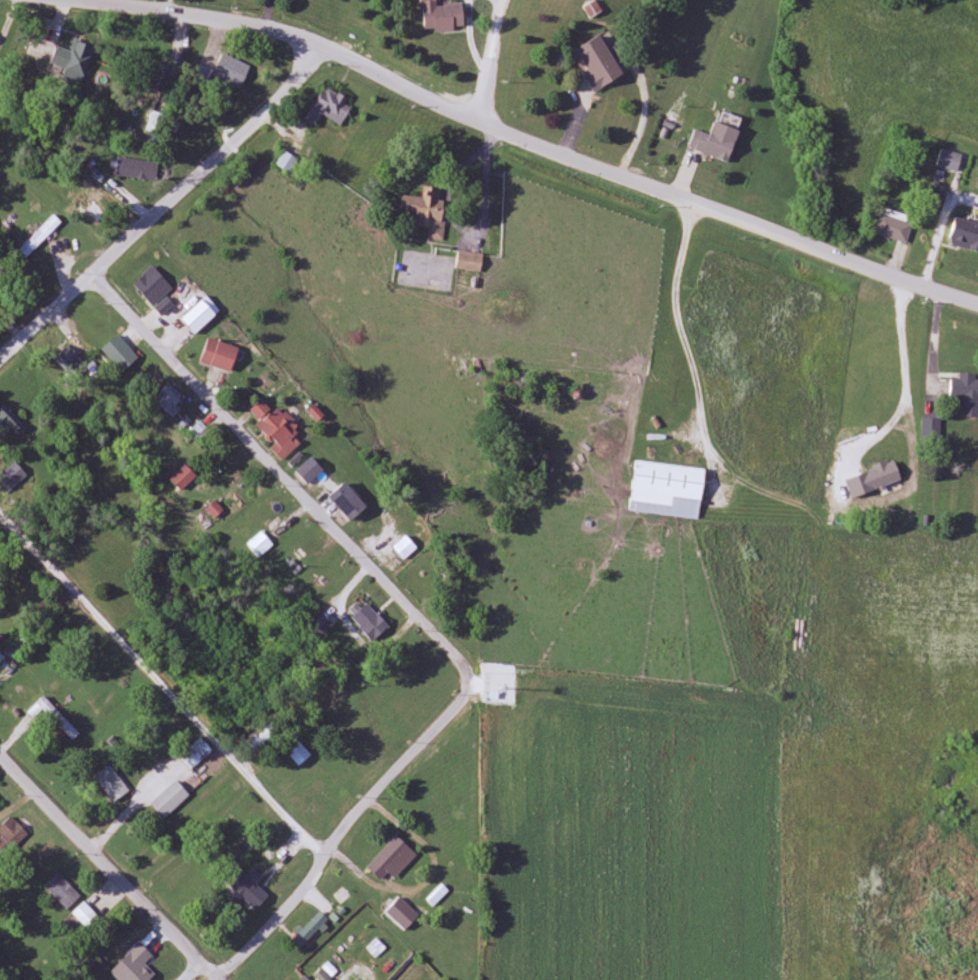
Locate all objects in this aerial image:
road: (165, 4)
building: (441, 16)
road: (305, 39)
building: (74, 62)
road: (492, 62)
building: (600, 63)
building: (232, 71)
building: (203, 74)
building: (331, 106)
building: (716, 142)
building: (950, 160)
building: (287, 161)
building: (134, 168)
building: (94, 178)
building: (937, 199)
road: (166, 210)
building: (429, 210)
building: (93, 211)
road: (729, 217)
building: (892, 227)
building: (965, 234)
building: (40, 236)
building: (470, 260)
building: (153, 286)
building: (201, 315)
road: (681, 317)
building: (220, 355)
building: (72, 359)
building: (966, 395)
building: (170, 400)
building: (278, 429)
building: (932, 430)
building: (310, 470)
building: (885, 474)
building: (13, 476)
building: (184, 476)
road: (290, 484)
building: (668, 489)
building: (348, 501)
building: (272, 516)
building: (304, 545)
building: (371, 622)
building: (2, 659)
road: (163, 680)
crop: (867, 736)
building: (299, 753)
building: (112, 784)
building: (317, 795)
building: (170, 800)
crop: (624, 828)
building: (11, 836)
road: (339, 836)
building: (389, 858)
road: (107, 867)
building: (185, 884)
building: (246, 888)
building: (63, 891)
building: (402, 914)
building: (88, 917)
building: (310, 930)
road: (193, 972)
building: (305, 978)

